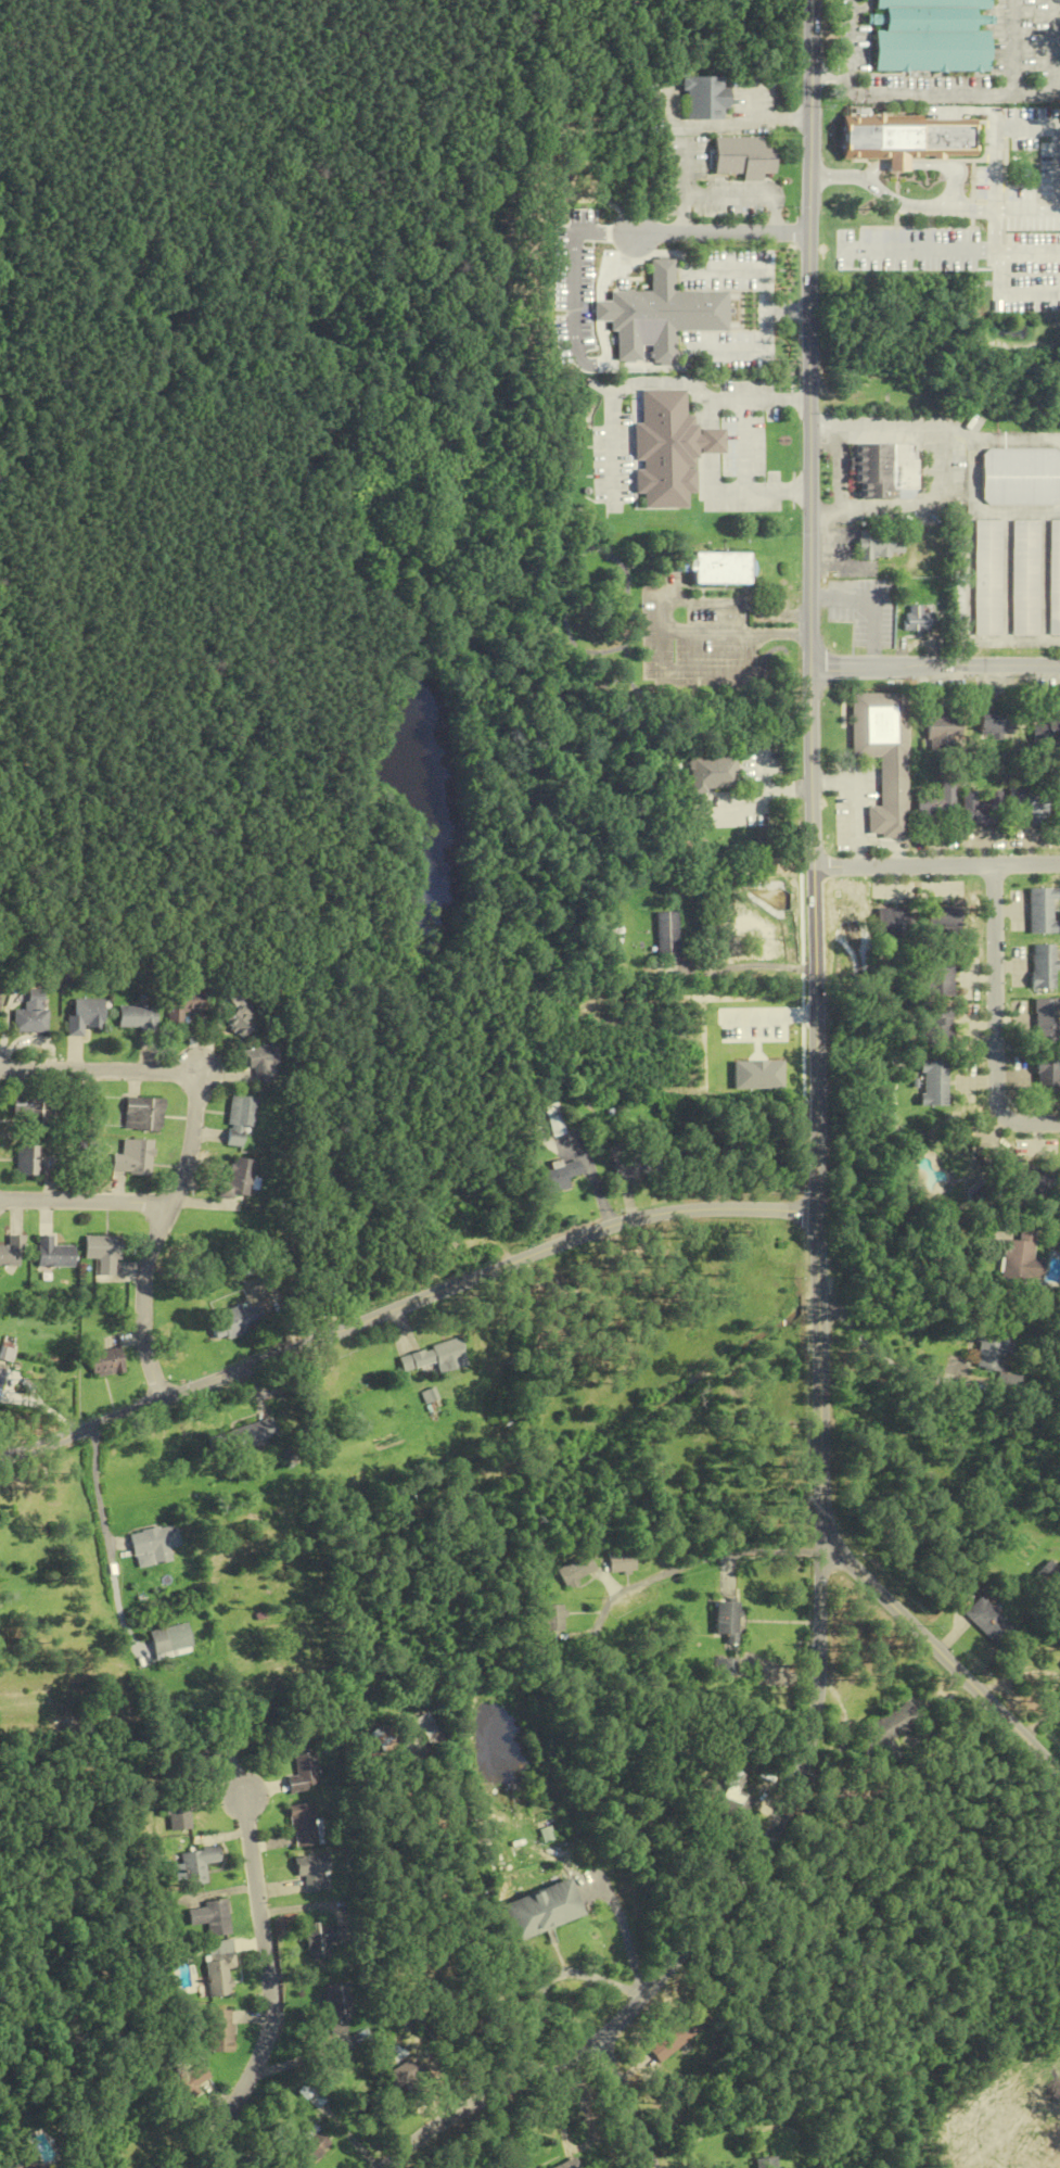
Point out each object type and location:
road: (847, 12)
building: (931, 36)
road: (847, 48)
road: (847, 73)
road: (845, 76)
road: (1011, 94)
building: (706, 97)
road: (782, 119)
road: (710, 126)
building: (907, 139)
building: (745, 156)
road: (688, 177)
road: (727, 198)
road: (778, 210)
road: (945, 210)
road: (688, 224)
road: (725, 233)
road: (650, 250)
road: (726, 269)
building: (676, 308)
road: (766, 309)
road: (789, 310)
road: (810, 333)
road: (647, 367)
road: (613, 397)
road: (794, 401)
road: (897, 426)
building: (711, 440)
road: (711, 446)
road: (744, 446)
building: (665, 447)
building: (885, 471)
building: (1021, 477)
road: (795, 490)
building: (879, 544)
building: (720, 567)
building: (987, 578)
building: (1024, 578)
building: (1055, 578)
road: (820, 598)
road: (876, 599)
road: (776, 614)
road: (662, 616)
building: (918, 619)
road: (777, 635)
road: (876, 657)
road: (935, 667)
building: (997, 725)
building: (950, 726)
building: (1048, 730)
building: (884, 757)
building: (711, 773)
road: (813, 781)
building: (1030, 804)
building: (938, 806)
building: (1059, 809)
building: (981, 810)
road: (937, 864)
road: (816, 906)
building: (1042, 911)
building: (942, 918)
building: (893, 923)
building: (665, 935)
road: (744, 966)
building: (1043, 966)
building: (936, 978)
building: (180, 1002)
building: (237, 1012)
building: (30, 1014)
building: (82, 1015)
building: (135, 1017)
road: (995, 1019)
building: (1046, 1019)
building: (937, 1025)
building: (259, 1056)
building: (1046, 1077)
building: (934, 1082)
building: (36, 1113)
building: (142, 1114)
building: (240, 1120)
building: (553, 1123)
road: (193, 1125)
building: (133, 1158)
building: (28, 1161)
building: (621, 1166)
building: (557, 1175)
building: (239, 1180)
building: (1032, 1188)
building: (449, 1218)
building: (13, 1252)
building: (56, 1253)
building: (104, 1253)
building: (1020, 1260)
road: (145, 1301)
road: (403, 1304)
building: (235, 1321)
building: (996, 1356)
building: (432, 1357)
road: (886, 1357)
building: (107, 1361)
building: (1, 1377)
road: (822, 1394)
building: (248, 1437)
road: (98, 1489)
building: (155, 1544)
road: (693, 1562)
building: (622, 1563)
building: (576, 1571)
building: (1050, 1571)
building: (554, 1619)
building: (727, 1621)
building: (989, 1622)
building: (175, 1639)
building: (725, 1666)
building: (1057, 1703)
building: (432, 1730)
building: (886, 1732)
building: (387, 1738)
building: (209, 1754)
building: (305, 1774)
building: (732, 1796)
building: (177, 1813)
building: (305, 1825)
building: (196, 1865)
building: (312, 1871)
building: (540, 1910)
building: (212, 1917)
road: (707, 1920)
road: (624, 1931)
building: (318, 1941)
building: (220, 1969)
road: (268, 1988)
building: (334, 2007)
building: (220, 2031)
building: (678, 2037)
building: (399, 2072)
building: (187, 2082)
building: (311, 2095)
road: (626, 2105)
building: (314, 2147)
building: (769, 2163)
building: (570, 2165)
building: (10, 2167)

